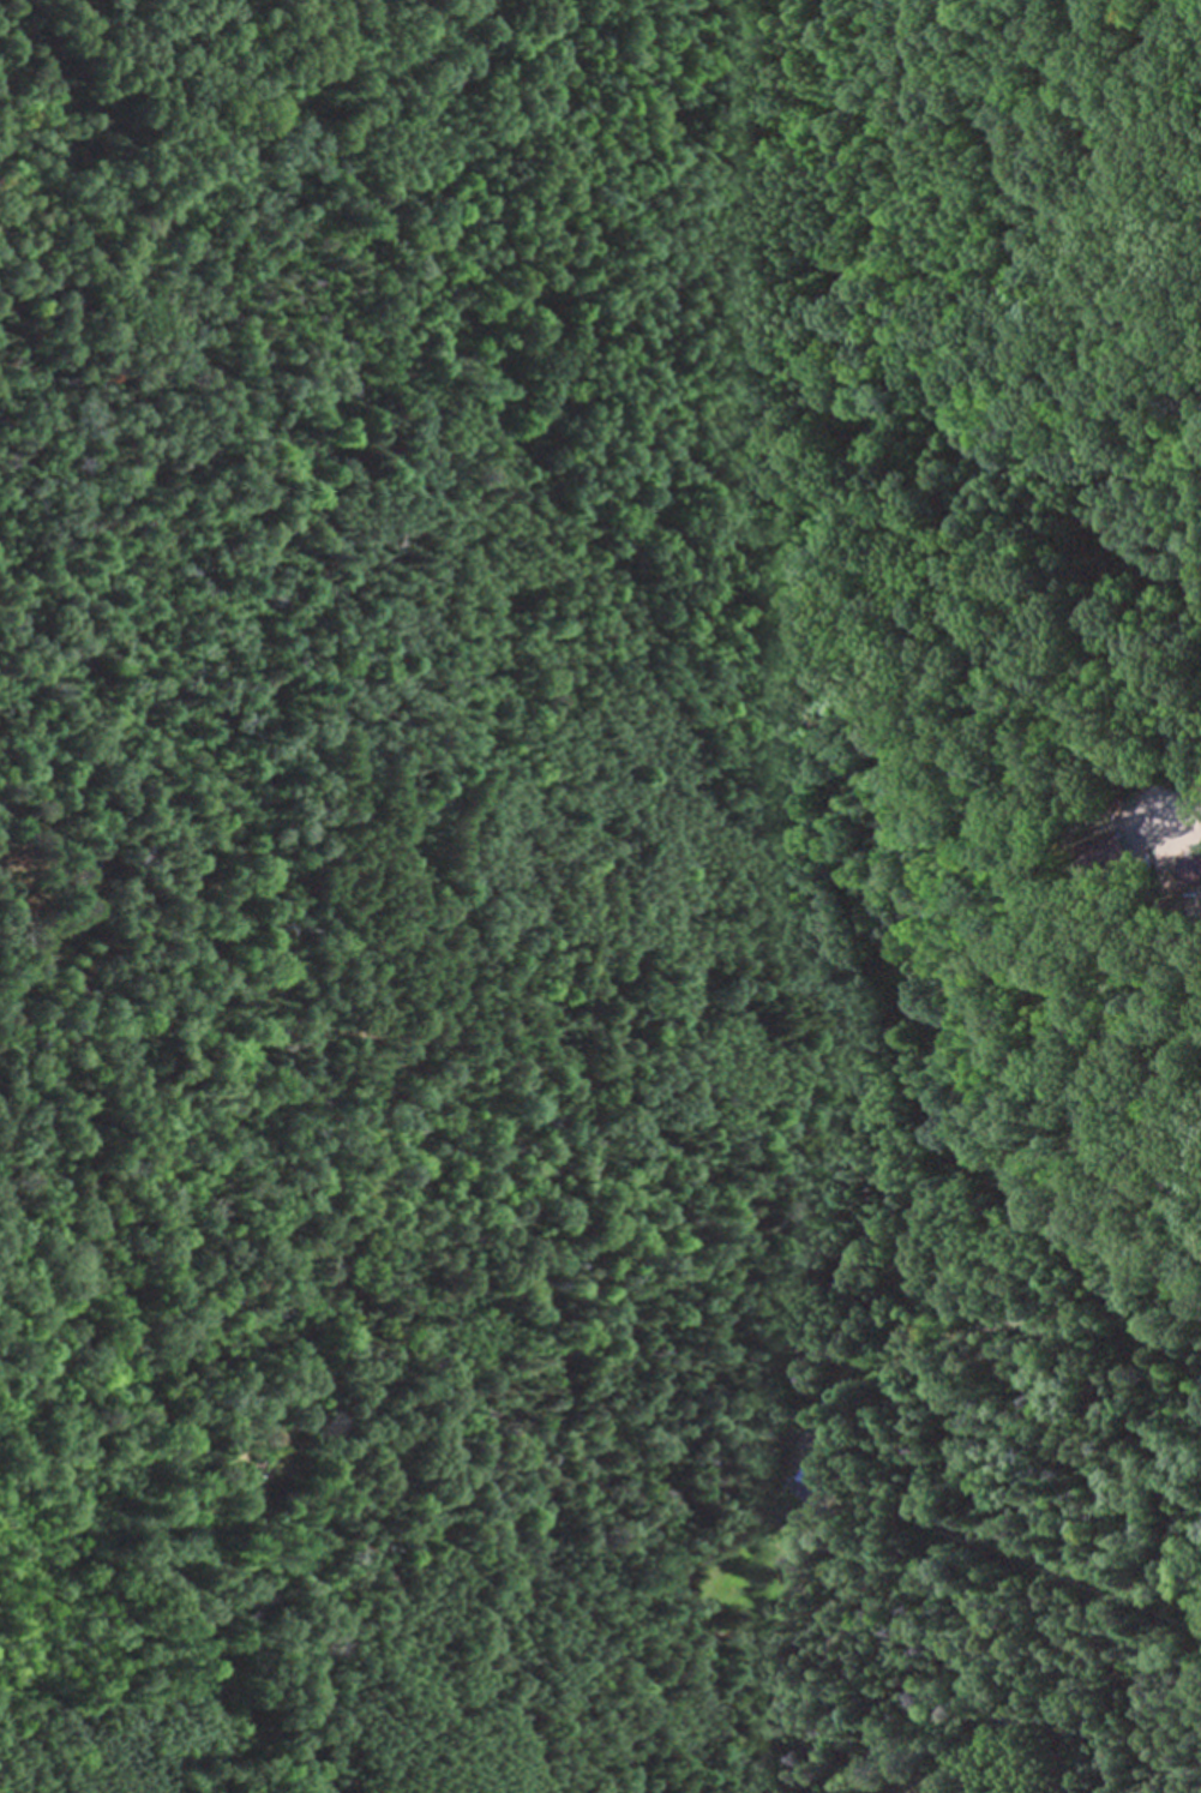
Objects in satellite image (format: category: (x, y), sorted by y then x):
road: (1002, 1327)
building: (256, 1473)
building: (811, 1481)
road: (654, 1679)
road: (470, 1680)

